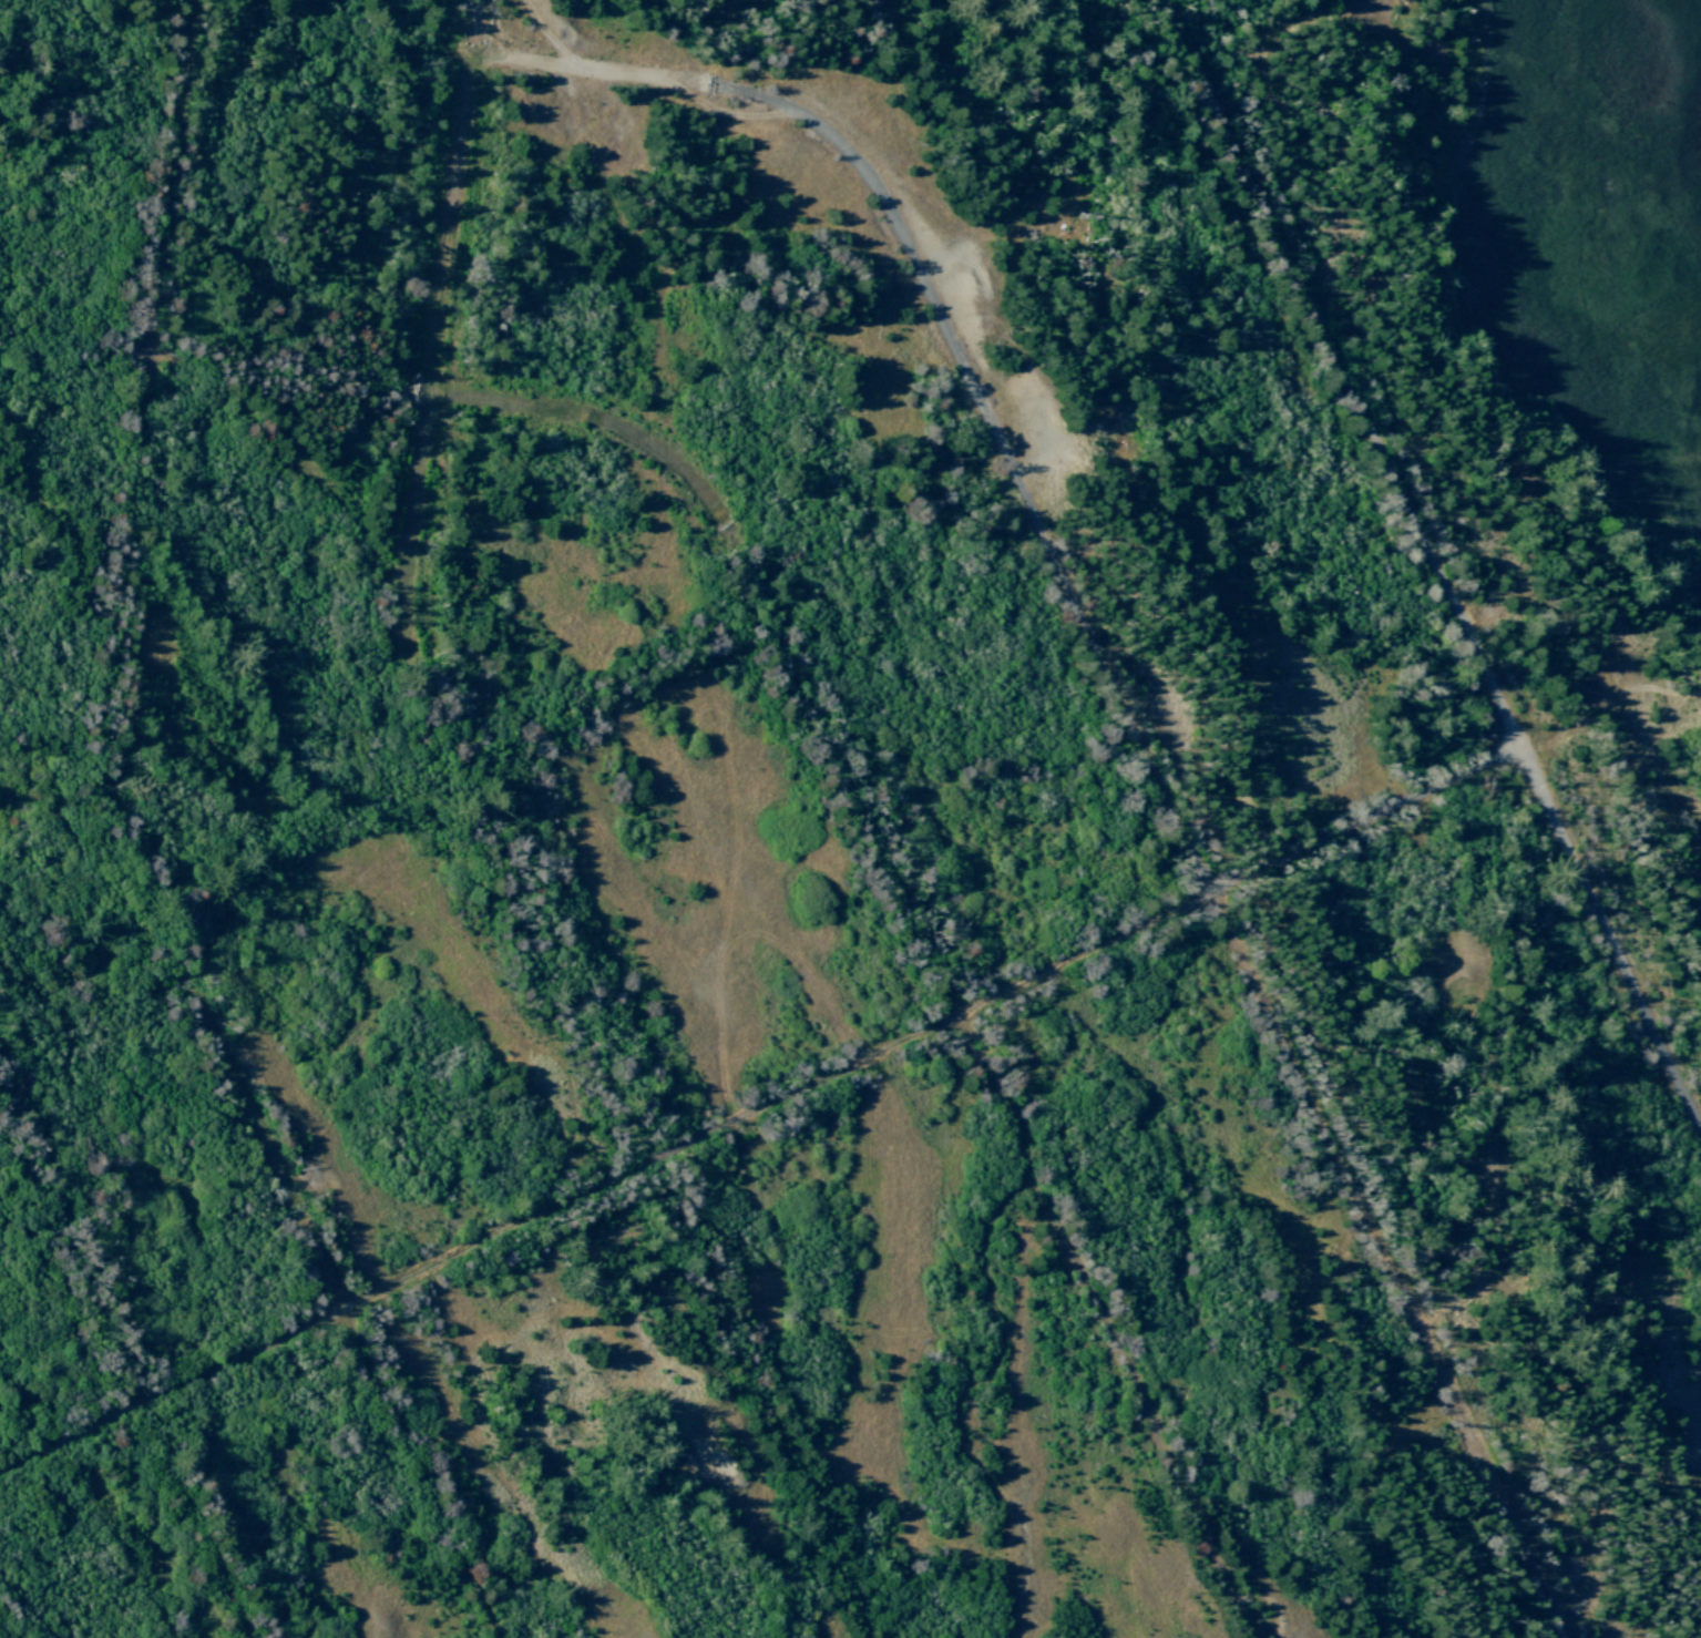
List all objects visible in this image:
road: (1434, 562)
road: (1129, 714)
road: (827, 731)
road: (501, 849)
road: (129, 856)
road: (761, 1115)
road: (126, 1365)
road: (6, 1625)

